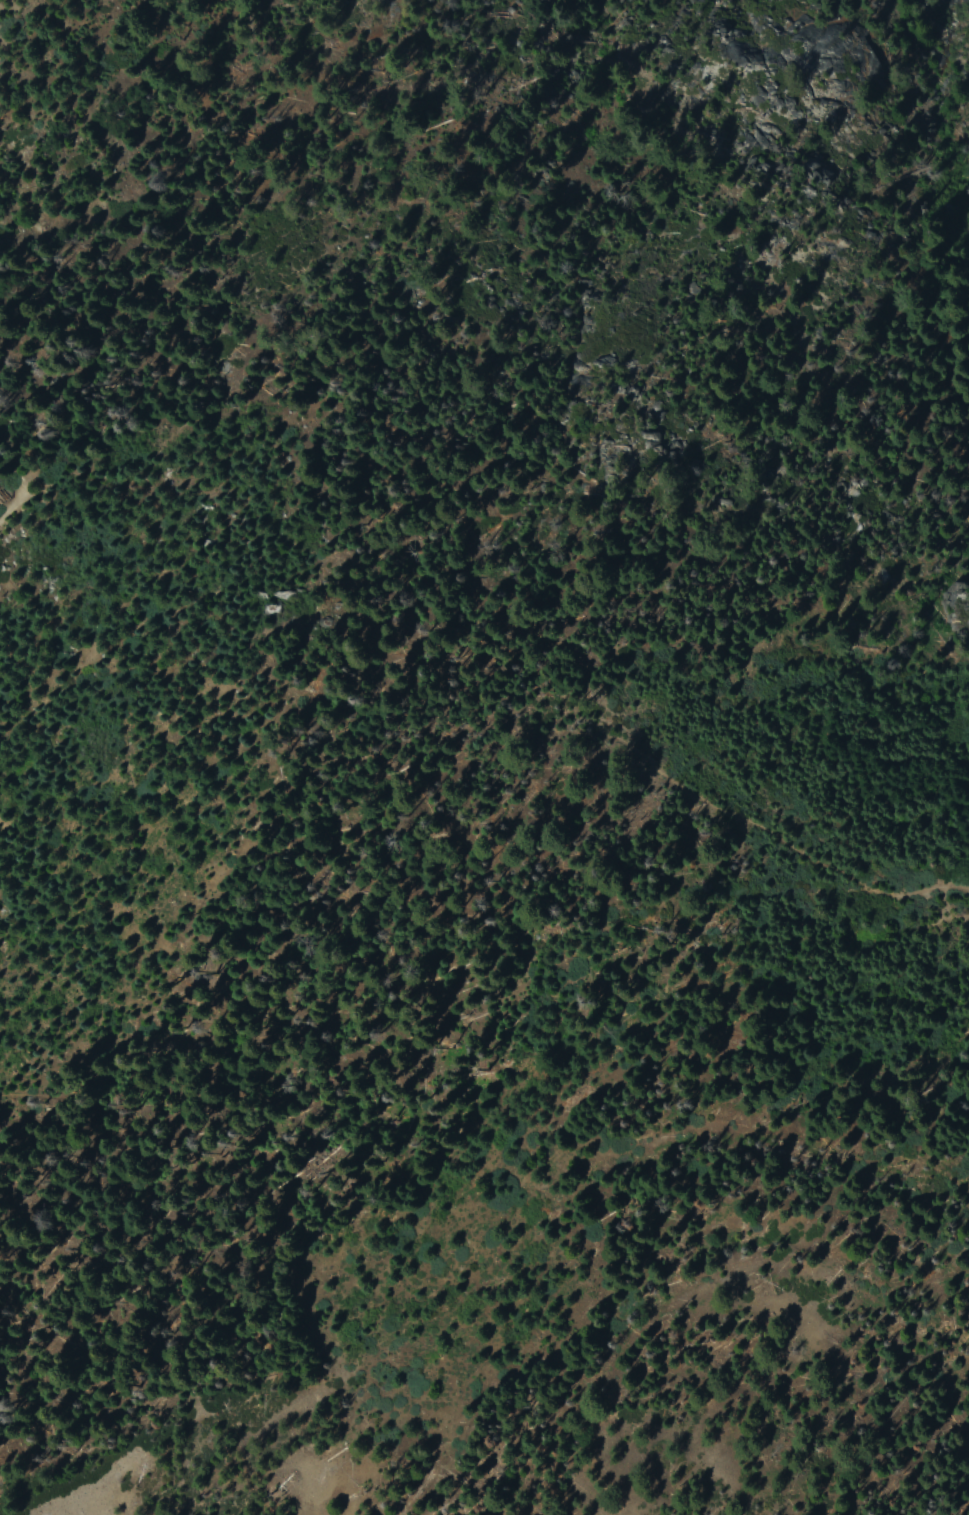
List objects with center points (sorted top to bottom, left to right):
road: (11, 507)
road: (401, 781)
road: (797, 890)
road: (919, 890)

